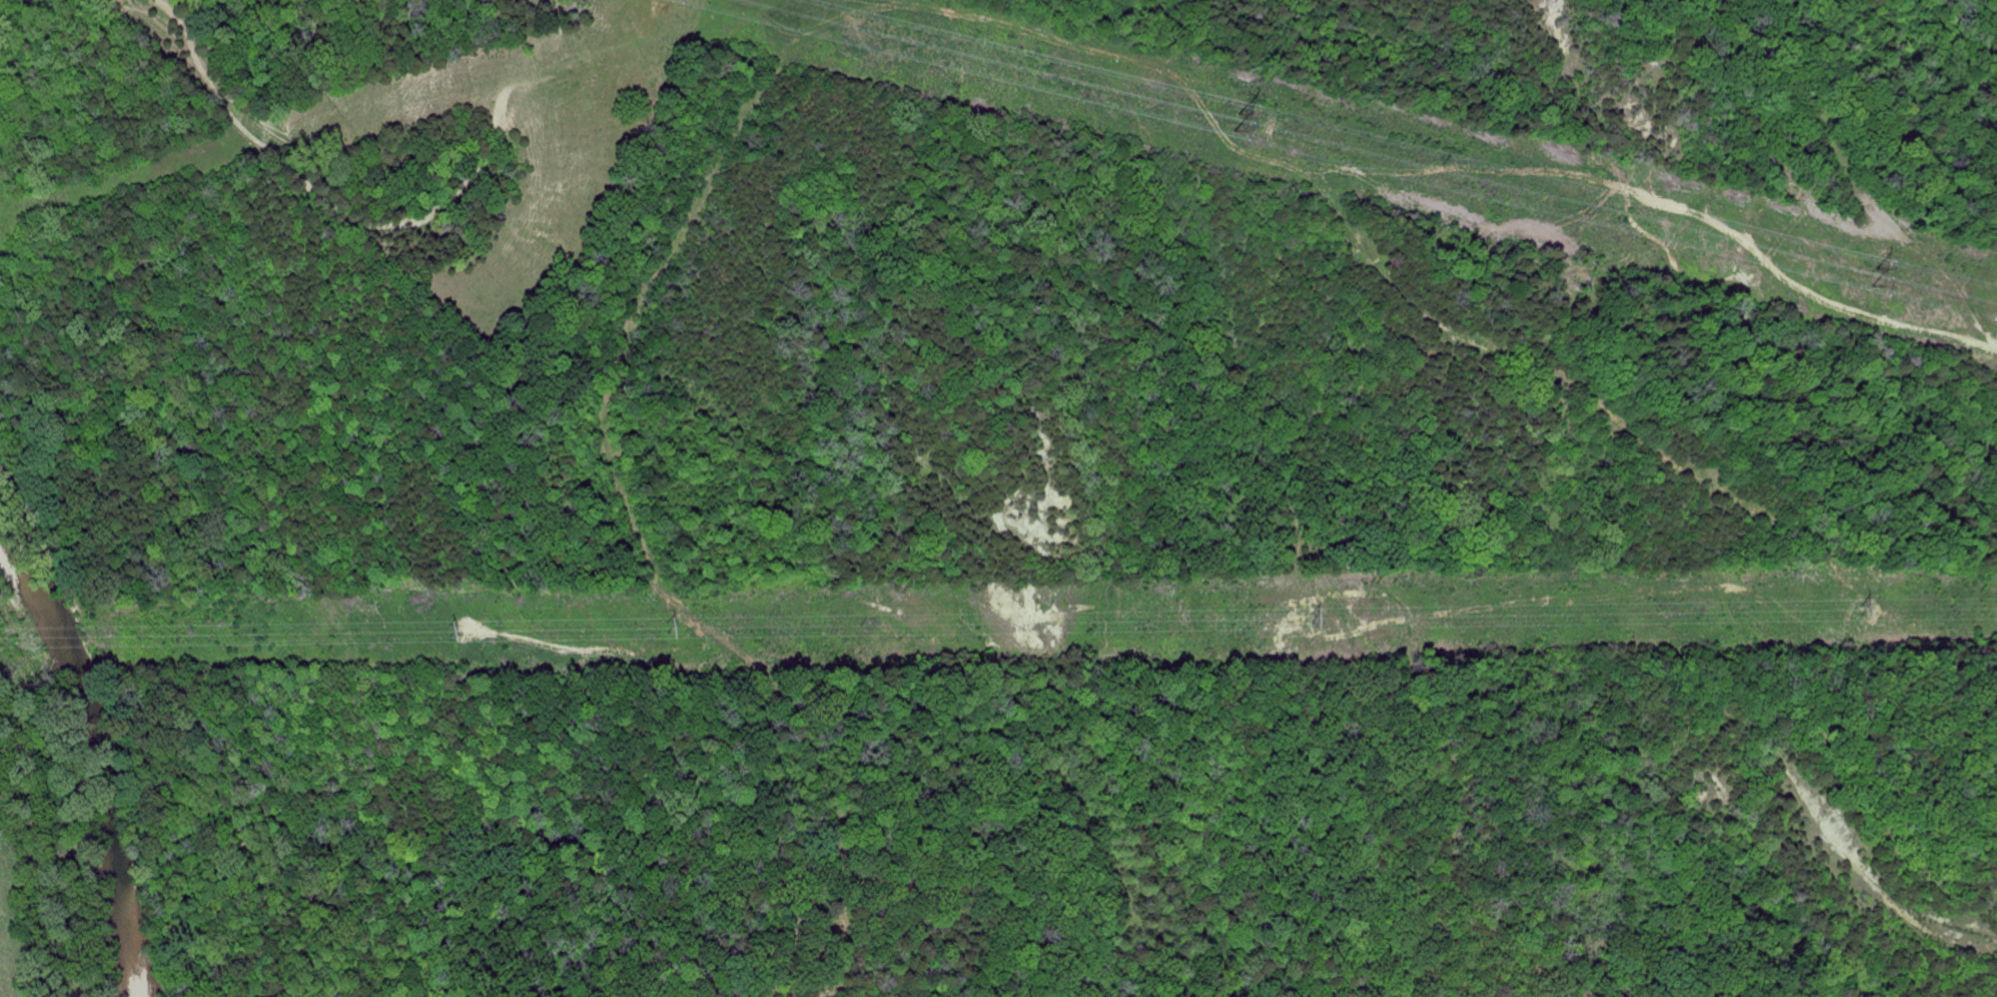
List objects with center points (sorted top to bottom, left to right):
power tower: (1234, 120)
power tower: (1876, 275)
power tower: (1875, 608)
power tower: (1312, 617)
power tower: (667, 627)
power tower: (451, 631)

